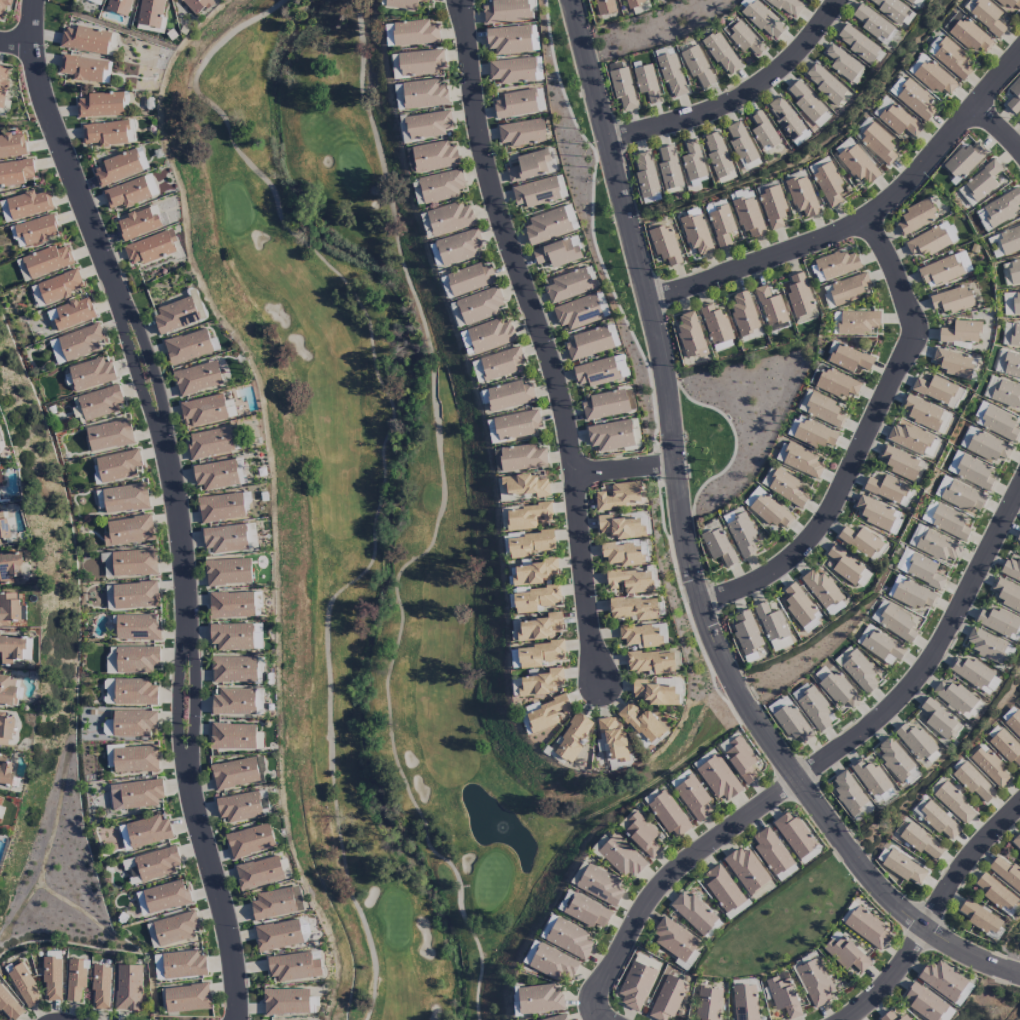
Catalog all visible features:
building: (95, 1)
building: (916, 2)
building: (634, 3)
building: (1008, 4)
building: (196, 5)
building: (3, 6)
building: (119, 6)
building: (787, 6)
building: (604, 7)
building: (889, 8)
building: (509, 11)
building: (150, 13)
building: (987, 17)
building: (763, 20)
building: (952, 21)
building: (873, 24)
building: (414, 33)
building: (970, 35)
building: (743, 37)
building: (533, 38)
building: (85, 39)
building: (508, 40)
road: (15, 43)
building: (857, 44)
building: (722, 53)
building: (949, 57)
building: (420, 62)
building: (841, 63)
building: (916, 64)
building: (697, 65)
building: (85, 68)
building: (538, 68)
building: (511, 71)
building: (672, 75)
building: (936, 78)
building: (646, 82)
building: (825, 83)
building: (3, 84)
building: (622, 88)
building: (423, 94)
road: (739, 94)
building: (1014, 96)
building: (913, 99)
building: (515, 104)
building: (808, 104)
building: (100, 105)
building: (785, 117)
building: (895, 118)
building: (1019, 119)
building: (428, 124)
road: (1000, 127)
building: (763, 132)
building: (108, 133)
building: (521, 133)
building: (876, 141)
building: (12, 145)
building: (742, 146)
building: (843, 146)
building: (717, 154)
building: (434, 156)
building: (141, 158)
building: (963, 161)
building: (693, 164)
building: (858, 164)
building: (531, 166)
building: (116, 168)
building: (669, 168)
building: (15, 172)
building: (645, 174)
building: (826, 181)
building: (983, 181)
building: (150, 184)
building: (441, 186)
building: (560, 186)
building: (536, 192)
building: (126, 193)
building: (802, 196)
building: (966, 196)
building: (28, 204)
building: (773, 207)
building: (998, 210)
building: (4, 211)
building: (748, 216)
building: (570, 217)
building: (916, 217)
building: (450, 218)
road: (865, 219)
building: (137, 224)
building: (546, 226)
building: (721, 226)
building: (36, 229)
building: (695, 232)
building: (1008, 240)
building: (928, 241)
building: (665, 243)
building: (150, 247)
building: (458, 247)
building: (558, 252)
building: (46, 261)
building: (834, 266)
building: (944, 269)
building: (1013, 271)
building: (470, 279)
building: (59, 286)
building: (567, 286)
building: (848, 289)
building: (798, 295)
building: (952, 300)
building: (1011, 303)
building: (479, 305)
building: (770, 306)
building: (581, 311)
building: (73, 313)
building: (743, 313)
building: (175, 315)
building: (857, 322)
building: (715, 324)
building: (961, 332)
building: (1011, 334)
building: (490, 335)
building: (612, 335)
building: (689, 335)
road: (545, 340)
building: (80, 342)
building: (589, 343)
building: (187, 346)
building: (56, 352)
building: (849, 358)
building: (501, 363)
building: (953, 363)
building: (1007, 364)
building: (477, 371)
building: (601, 371)
building: (90, 373)
building: (197, 378)
building: (837, 384)
building: (935, 389)
building: (1003, 392)
building: (509, 395)
building: (100, 402)
building: (605, 405)
building: (206, 410)
building: (824, 410)
building: (925, 413)
building: (996, 422)
building: (513, 425)
building: (813, 434)
building: (109, 435)
building: (610, 435)
road: (864, 438)
building: (913, 440)
building: (210, 443)
building: (984, 445)
building: (0, 447)
building: (523, 457)
building: (800, 460)
building: (900, 462)
building: (117, 466)
road: (626, 466)
building: (970, 471)
building: (214, 475)
building: (1, 479)
building: (525, 485)
building: (784, 486)
building: (886, 489)
building: (959, 495)
building: (619, 496)
building: (125, 498)
road: (176, 500)
building: (221, 507)
building: (768, 509)
building: (877, 514)
building: (527, 517)
building: (949, 521)
park: (373, 524)
building: (7, 526)
building: (620, 527)
building: (128, 531)
building: (740, 532)
building: (1018, 537)
building: (225, 538)
building: (860, 541)
building: (0, 543)
building: (530, 544)
building: (933, 544)
building: (718, 546)
road: (687, 547)
building: (622, 554)
building: (134, 562)
building: (107, 564)
building: (10, 566)
building: (848, 567)
building: (919, 569)
building: (1011, 569)
building: (228, 571)
building: (533, 573)
building: (631, 581)
building: (821, 588)
building: (1007, 594)
building: (135, 595)
building: (912, 595)
building: (109, 597)
building: (537, 599)
building: (257, 603)
building: (231, 605)
building: (9, 608)
building: (634, 608)
building: (801, 608)
building: (834, 608)
building: (894, 621)
building: (998, 621)
building: (771, 622)
building: (136, 627)
building: (539, 627)
building: (640, 635)
building: (746, 635)
building: (230, 636)
building: (257, 636)
building: (781, 643)
building: (986, 645)
building: (879, 646)
building: (11, 649)
building: (540, 654)
road: (933, 654)
building: (137, 659)
building: (514, 659)
building: (110, 660)
building: (651, 662)
building: (234, 669)
building: (857, 669)
building: (975, 674)
building: (539, 683)
building: (837, 688)
building: (8, 690)
building: (129, 692)
building: (654, 693)
building: (954, 696)
building: (1019, 701)
building: (233, 702)
building: (258, 702)
building: (778, 704)
building: (813, 707)
building: (545, 713)
building: (939, 720)
building: (133, 723)
building: (642, 723)
building: (792, 723)
building: (1014, 723)
building: (5, 729)
building: (232, 736)
building: (572, 737)
building: (613, 739)
building: (918, 744)
building: (1005, 745)
building: (109, 756)
building: (135, 759)
building: (703, 759)
building: (740, 759)
building: (895, 759)
building: (990, 767)
building: (5, 772)
building: (234, 773)
building: (718, 778)
building: (872, 780)
building: (973, 782)
building: (848, 793)
building: (135, 794)
building: (694, 799)
building: (953, 802)
building: (239, 807)
road: (762, 808)
building: (1, 810)
building: (668, 814)
building: (939, 821)
building: (144, 832)
building: (640, 834)
building: (793, 834)
building: (249, 841)
building: (921, 842)
building: (1016, 842)
building: (771, 851)
building: (622, 857)
road: (968, 862)
building: (157, 863)
building: (904, 868)
building: (746, 870)
building: (786, 872)
building: (1006, 872)
building: (258, 873)
building: (601, 885)
building: (722, 889)
building: (996, 893)
building: (162, 897)
building: (275, 903)
building: (587, 912)
building: (847, 912)
building: (693, 913)
road: (643, 915)
building: (979, 917)
building: (548, 927)
building: (175, 928)
building: (868, 928)
building: (278, 935)
building: (569, 939)
building: (673, 939)
building: (530, 953)
building: (845, 953)
building: (804, 960)
building: (686, 961)
building: (553, 964)
building: (183, 965)
building: (294, 966)
road: (887, 974)
building: (52, 979)
building: (75, 979)
building: (942, 980)
building: (815, 982)
building: (635, 985)
building: (24, 986)
building: (100, 987)
building: (128, 987)
building: (963, 994)
building: (783, 995)
building: (187, 998)
building: (667, 998)
building: (539, 999)
building: (286, 1001)
building: (744, 1002)
building: (923, 1002)
building: (708, 1004)
building: (9, 1006)
building: (947, 1014)
building: (892, 1017)
building: (556, 1018)

